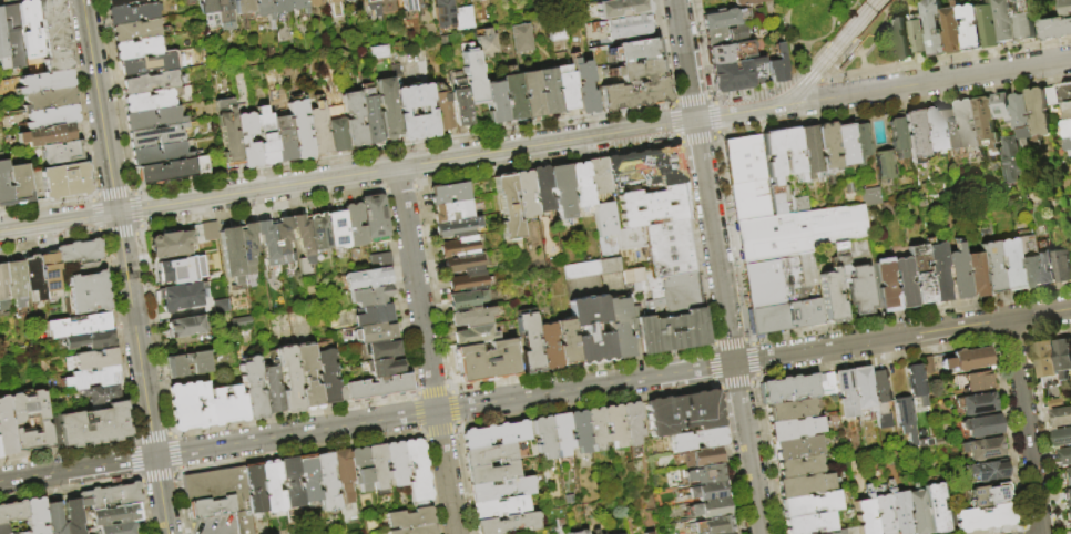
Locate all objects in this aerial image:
road: (1, 0)
building: (346, 0)
building: (598, 0)
building: (1063, 0)
building: (118, 2)
building: (313, 2)
building: (748, 2)
building: (407, 4)
building: (277, 6)
building: (296, 6)
building: (242, 7)
building: (331, 7)
building: (371, 7)
building: (619, 8)
building: (1067, 8)
building: (261, 9)
building: (131, 12)
building: (441, 12)
road: (837, 12)
building: (207, 13)
building: (223, 13)
building: (723, 18)
building: (1024, 20)
building: (1007, 21)
building: (990, 24)
building: (624, 25)
park: (810, 28)
building: (27, 29)
building: (936, 29)
building: (972, 29)
building: (132, 30)
building: (953, 30)
building: (1053, 30)
building: (50, 34)
building: (726, 34)
road: (878, 34)
building: (10, 35)
building: (519, 38)
road: (793, 38)
railway: (855, 38)
building: (919, 38)
building: (900, 41)
building: (483, 42)
park: (870, 43)
railway: (822, 44)
building: (134, 48)
road: (702, 48)
building: (634, 49)
building: (376, 51)
road: (662, 51)
building: (730, 52)
building: (2, 53)
road: (815, 53)
road: (806, 57)
road: (945, 58)
road: (839, 59)
road: (685, 60)
building: (146, 63)
building: (778, 65)
building: (637, 69)
building: (758, 72)
road: (810, 75)
building: (471, 76)
building: (731, 76)
building: (42, 80)
road: (805, 81)
building: (151, 82)
road: (788, 83)
building: (580, 85)
building: (562, 86)
road: (883, 89)
road: (758, 90)
building: (545, 91)
building: (1064, 92)
building: (529, 93)
building: (629, 93)
road: (113, 94)
building: (510, 94)
building: (1050, 95)
road: (708, 96)
building: (47, 97)
road: (76, 97)
road: (690, 99)
building: (149, 100)
building: (458, 100)
road: (712, 100)
building: (492, 101)
road: (670, 103)
road: (894, 106)
building: (1001, 106)
building: (438, 107)
building: (386, 110)
building: (1069, 110)
building: (427, 112)
building: (1037, 112)
building: (50, 115)
building: (1020, 115)
road: (715, 116)
building: (151, 117)
building: (368, 117)
building: (350, 119)
road: (672, 121)
building: (967, 123)
building: (985, 124)
building: (316, 126)
building: (1068, 127)
building: (298, 129)
building: (931, 129)
building: (949, 130)
building: (226, 131)
building: (335, 131)
building: (45, 134)
road: (716, 134)
building: (154, 135)
building: (914, 135)
building: (263, 136)
building: (897, 136)
building: (282, 137)
road: (714, 137)
building: (245, 140)
road: (675, 140)
road: (695, 140)
building: (861, 142)
building: (845, 144)
road: (401, 145)
building: (1068, 145)
building: (827, 148)
building: (60, 152)
building: (793, 152)
building: (810, 152)
building: (157, 153)
building: (774, 153)
railway: (457, 154)
building: (1008, 160)
railway: (465, 161)
road: (547, 162)
building: (883, 164)
building: (642, 167)
building: (167, 170)
road: (347, 175)
building: (594, 176)
building: (747, 177)
building: (62, 179)
road: (415, 184)
building: (578, 184)
building: (20, 185)
building: (4, 186)
road: (398, 188)
building: (539, 188)
road: (131, 189)
building: (559, 191)
road: (111, 192)
building: (448, 193)
building: (521, 194)
road: (91, 195)
building: (869, 196)
building: (793, 202)
road: (45, 203)
building: (504, 205)
building: (651, 205)
road: (262, 208)
road: (136, 209)
building: (451, 212)
traffic signals: (115, 213)
road: (91, 214)
building: (373, 217)
building: (601, 219)
building: (353, 225)
road: (118, 227)
building: (335, 228)
building: (456, 228)
road: (139, 230)
building: (206, 232)
building: (318, 232)
building: (799, 232)
building: (302, 233)
road: (95, 234)
road: (118, 235)
building: (283, 238)
road: (731, 238)
building: (267, 239)
road: (47, 242)
road: (714, 242)
road: (694, 243)
building: (169, 244)
building: (458, 247)
building: (659, 247)
building: (76, 250)
building: (247, 251)
building: (232, 253)
building: (379, 260)
building: (1028, 263)
building: (463, 264)
building: (1009, 264)
building: (608, 265)
building: (1063, 265)
building: (86, 267)
building: (990, 267)
building: (1047, 267)
building: (178, 269)
building: (579, 269)
building: (937, 269)
building: (958, 271)
building: (48, 274)
building: (920, 274)
building: (976, 275)
building: (32, 277)
building: (367, 278)
building: (13, 281)
building: (782, 281)
building: (904, 281)
building: (467, 283)
building: (885, 284)
road: (432, 285)
building: (2, 288)
building: (858, 288)
building: (85, 291)
road: (398, 291)
building: (670, 292)
building: (180, 296)
building: (370, 296)
building: (833, 296)
building: (468, 299)
building: (218, 305)
building: (371, 314)
road: (910, 315)
building: (785, 316)
building: (476, 317)
building: (76, 325)
building: (184, 327)
building: (619, 328)
building: (591, 329)
building: (374, 331)
building: (669, 331)
road: (153, 332)
road: (1047, 332)
building: (479, 335)
road: (901, 336)
road: (115, 338)
road: (1011, 338)
building: (88, 339)
road: (748, 340)
building: (529, 341)
road: (728, 341)
building: (565, 342)
road: (710, 343)
building: (548, 347)
building: (378, 349)
road: (426, 350)
building: (1063, 357)
road: (753, 358)
road: (877, 358)
building: (89, 359)
building: (966, 359)
building: (1045, 359)
building: (486, 361)
building: (186, 363)
road: (711, 364)
building: (927, 364)
building: (380, 367)
road: (580, 367)
building: (325, 372)
building: (306, 376)
building: (90, 377)
building: (287, 379)
road: (754, 379)
building: (972, 381)
building: (917, 382)
road: (735, 384)
building: (825, 384)
road: (715, 386)
building: (251, 388)
building: (375, 388)
road: (449, 388)
building: (788, 388)
building: (861, 388)
building: (269, 389)
road: (430, 389)
building: (99, 393)
building: (845, 393)
road: (412, 394)
building: (879, 397)
building: (976, 403)
road: (584, 404)
building: (203, 405)
road: (452, 407)
road: (443, 409)
building: (789, 410)
building: (681, 412)
road: (414, 413)
road: (292, 414)
building: (1061, 417)
building: (905, 418)
building: (17, 421)
building: (631, 422)
building: (91, 424)
building: (614, 425)
building: (981, 425)
road: (1026, 425)
road: (456, 427)
building: (596, 428)
building: (794, 428)
building: (6, 429)
building: (579, 430)
road: (1041, 430)
road: (438, 432)
road: (171, 433)
road: (419, 433)
building: (560, 433)
road: (1008, 433)
building: (494, 434)
road: (150, 437)
building: (543, 437)
building: (1062, 438)
building: (694, 439)
road: (131, 441)
building: (796, 448)
road: (746, 449)
building: (982, 449)
road: (298, 451)
road: (64, 452)
road: (174, 452)
building: (488, 454)
building: (701, 455)
traffic signals: (154, 456)
road: (766, 458)
building: (1063, 458)
road: (131, 459)
road: (728, 461)
building: (396, 463)
building: (798, 466)
road: (76, 468)
building: (377, 468)
building: (360, 469)
building: (986, 470)
road: (176, 472)
building: (416, 473)
building: (491, 473)
building: (343, 474)
building: (698, 474)
road: (156, 477)
building: (1065, 477)
road: (136, 479)
building: (307, 481)
building: (289, 482)
road: (462, 482)
building: (326, 484)
road: (429, 484)
building: (804, 484)
building: (206, 485)
building: (272, 486)
building: (254, 487)
road: (67, 489)
building: (500, 489)
building: (705, 491)
building: (111, 495)
road: (160, 495)
building: (986, 495)
building: (1067, 497)
building: (239, 501)
road: (180, 504)
building: (808, 504)
road: (143, 507)
building: (210, 507)
building: (500, 507)
building: (707, 507)
building: (935, 507)
building: (881, 510)
building: (899, 510)
building: (12, 512)
building: (917, 512)
building: (115, 514)
building: (864, 514)
building: (35, 516)
building: (1068, 516)
building: (53, 517)
building: (74, 517)
building: (983, 517)
building: (409, 518)
building: (808, 523)
parking lot: (214, 524)
building: (508, 524)
building: (708, 525)
road: (1057, 526)
building: (115, 528)
building: (4, 530)
building: (415, 530)
building: (850, 530)
road: (993, 530)
building: (1069, 531)
building: (580, 532)
building: (837, 532)
building: (620, 533)
building: (649, 533)
building: (723, 533)

